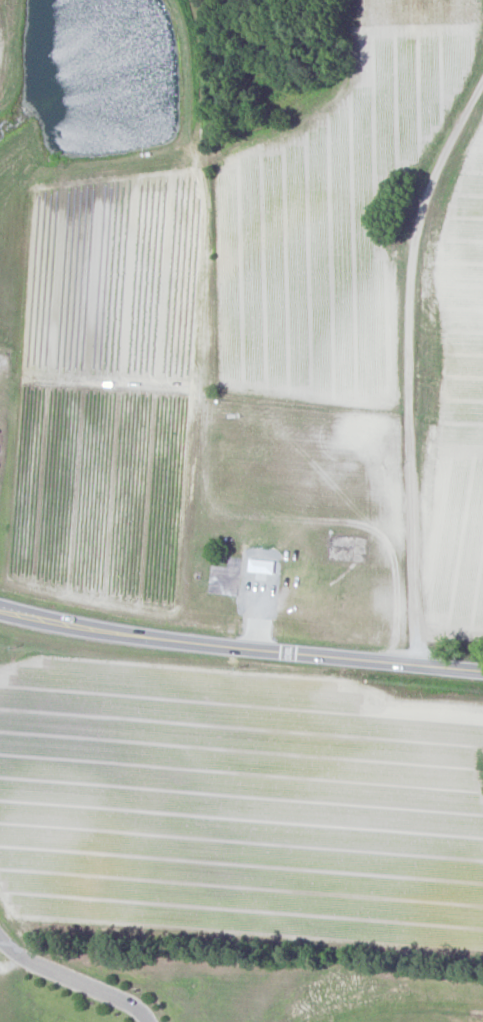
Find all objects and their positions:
road: (409, 365)
road: (240, 647)
road: (73, 981)

